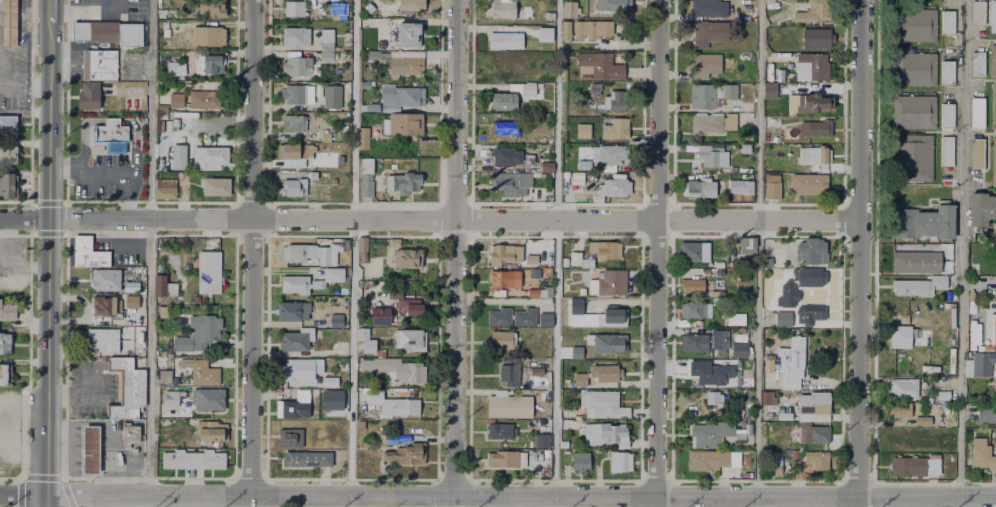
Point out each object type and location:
building: (406, 4)
building: (610, 4)
building: (210, 7)
building: (495, 8)
building: (709, 8)
building: (340, 9)
road: (91, 10)
building: (295, 10)
building: (571, 10)
road: (50, 11)
building: (523, 11)
building: (810, 12)
building: (547, 14)
building: (978, 14)
building: (993, 19)
building: (944, 20)
building: (8, 24)
building: (916, 26)
building: (591, 29)
building: (566, 31)
building: (108, 32)
building: (404, 33)
building: (709, 33)
building: (206, 35)
building: (545, 35)
building: (296, 37)
building: (817, 39)
building: (506, 40)
building: (327, 45)
building: (782, 58)
building: (994, 61)
building: (209, 63)
building: (706, 63)
building: (291, 64)
building: (976, 65)
building: (101, 66)
building: (405, 67)
building: (599, 67)
building: (811, 67)
building: (176, 69)
building: (508, 69)
building: (546, 70)
building: (916, 70)
building: (767, 74)
building: (949, 74)
building: (776, 77)
road: (24, 79)
building: (528, 89)
building: (595, 90)
building: (729, 92)
building: (770, 92)
building: (345, 94)
building: (87, 95)
building: (294, 95)
building: (702, 96)
building: (332, 98)
building: (397, 98)
building: (204, 100)
building: (177, 101)
building: (502, 101)
building: (611, 101)
building: (814, 103)
building: (994, 107)
building: (161, 108)
building: (914, 113)
building: (978, 113)
building: (947, 117)
road: (115, 120)
building: (722, 122)
building: (294, 124)
building: (8, 125)
building: (402, 125)
building: (508, 129)
building: (615, 129)
building: (816, 129)
building: (583, 130)
building: (109, 131)
building: (326, 135)
building: (363, 139)
building: (775, 139)
building: (745, 149)
building: (295, 151)
building: (947, 152)
building: (977, 153)
building: (7, 155)
building: (613, 155)
building: (709, 155)
building: (178, 156)
building: (508, 157)
building: (813, 157)
building: (210, 158)
building: (915, 158)
building: (529, 159)
building: (993, 160)
building: (583, 165)
road: (62, 167)
building: (547, 168)
parking lot: (106, 176)
road: (105, 177)
building: (567, 178)
building: (366, 179)
building: (7, 184)
building: (403, 184)
building: (512, 184)
building: (802, 184)
building: (215, 187)
building: (739, 187)
building: (772, 187)
building: (163, 188)
building: (294, 188)
building: (614, 188)
building: (700, 189)
road: (125, 198)
building: (982, 210)
road: (24, 218)
road: (454, 219)
building: (923, 223)
building: (394, 243)
building: (362, 245)
building: (745, 246)
road: (149, 247)
building: (532, 247)
road: (556, 247)
building: (606, 250)
building: (694, 252)
building: (811, 252)
building: (87, 253)
road: (252, 253)
building: (312, 253)
road: (353, 253)
road: (455, 253)
road: (656, 253)
road: (758, 253)
road: (859, 253)
road: (960, 253)
building: (505, 255)
road: (48, 258)
building: (408, 258)
building: (574, 259)
building: (564, 261)
building: (767, 262)
building: (915, 262)
building: (587, 263)
building: (969, 267)
building: (713, 271)
building: (208, 272)
building: (333, 276)
building: (809, 278)
building: (504, 279)
building: (105, 281)
building: (939, 282)
building: (608, 283)
building: (295, 285)
building: (316, 285)
building: (130, 287)
building: (164, 287)
building: (691, 287)
building: (910, 287)
building: (995, 291)
building: (536, 292)
building: (716, 294)
building: (787, 296)
road: (501, 301)
building: (131, 302)
building: (100, 306)
building: (411, 307)
building: (7, 311)
building: (164, 311)
building: (293, 311)
building: (695, 311)
building: (597, 316)
building: (811, 317)
building: (380, 318)
building: (499, 318)
building: (524, 319)
building: (735, 319)
building: (783, 319)
building: (546, 320)
building: (336, 321)
building: (976, 324)
building: (993, 330)
building: (200, 335)
building: (900, 336)
building: (296, 338)
building: (740, 338)
building: (410, 339)
building: (500, 339)
building: (718, 339)
building: (103, 340)
building: (365, 341)
building: (541, 342)
building: (604, 342)
building: (693, 342)
building: (4, 343)
building: (920, 345)
building: (576, 352)
building: (950, 353)
building: (739, 354)
building: (767, 359)
building: (791, 363)
building: (983, 365)
building: (967, 368)
building: (947, 369)
building: (300, 370)
building: (397, 370)
building: (537, 371)
building: (200, 372)
building: (711, 372)
building: (5, 374)
building: (509, 374)
building: (606, 374)
building: (164, 376)
building: (580, 380)
building: (330, 382)
building: (565, 382)
building: (128, 388)
building: (744, 388)
building: (904, 388)
building: (994, 391)
building: (943, 397)
building: (768, 398)
building: (714, 399)
building: (208, 400)
building: (333, 401)
building: (170, 402)
building: (814, 403)
building: (393, 404)
building: (510, 405)
building: (602, 405)
building: (290, 406)
building: (943, 409)
building: (901, 411)
building: (733, 414)
building: (986, 414)
building: (784, 416)
building: (923, 421)
building: (165, 422)
building: (748, 429)
building: (500, 431)
building: (213, 432)
building: (592, 434)
building: (710, 434)
building: (128, 435)
building: (613, 435)
building: (820, 435)
building: (287, 438)
building: (385, 438)
building: (543, 441)
building: (562, 443)
building: (89, 450)
building: (406, 454)
building: (983, 455)
building: (308, 459)
building: (502, 459)
building: (734, 459)
building: (193, 460)
building: (707, 461)
building: (580, 462)
building: (621, 462)
building: (820, 462)
building: (774, 465)
building: (797, 465)
building: (919, 466)
road: (22, 495)
road: (520, 495)
road: (45, 501)
road: (94, 501)
road: (555, 501)

